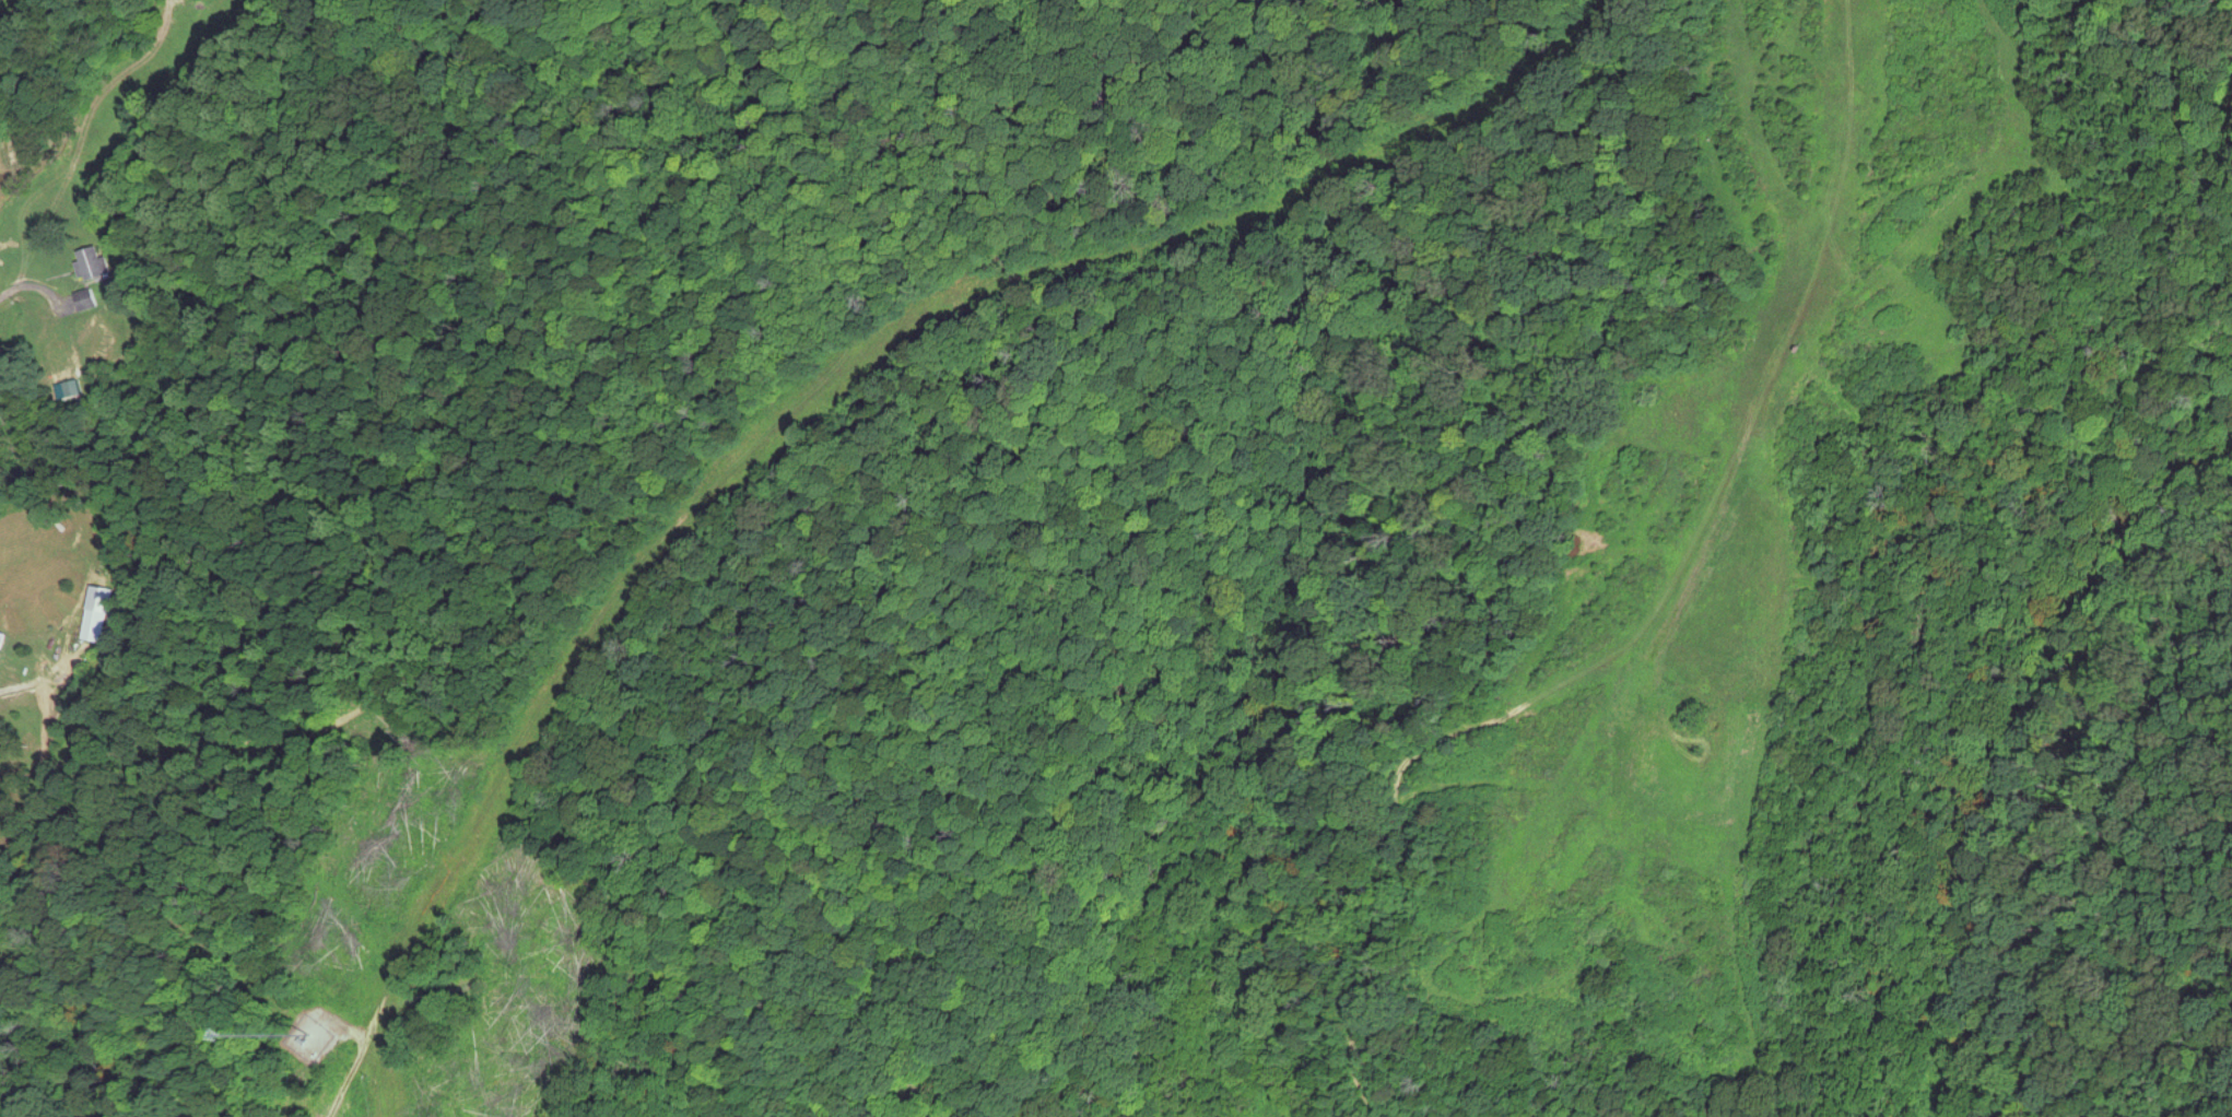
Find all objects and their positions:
road: (847, 8)
road: (174, 161)
road: (424, 201)
building: (93, 266)
building: (87, 302)
road: (342, 446)
building: (97, 616)

